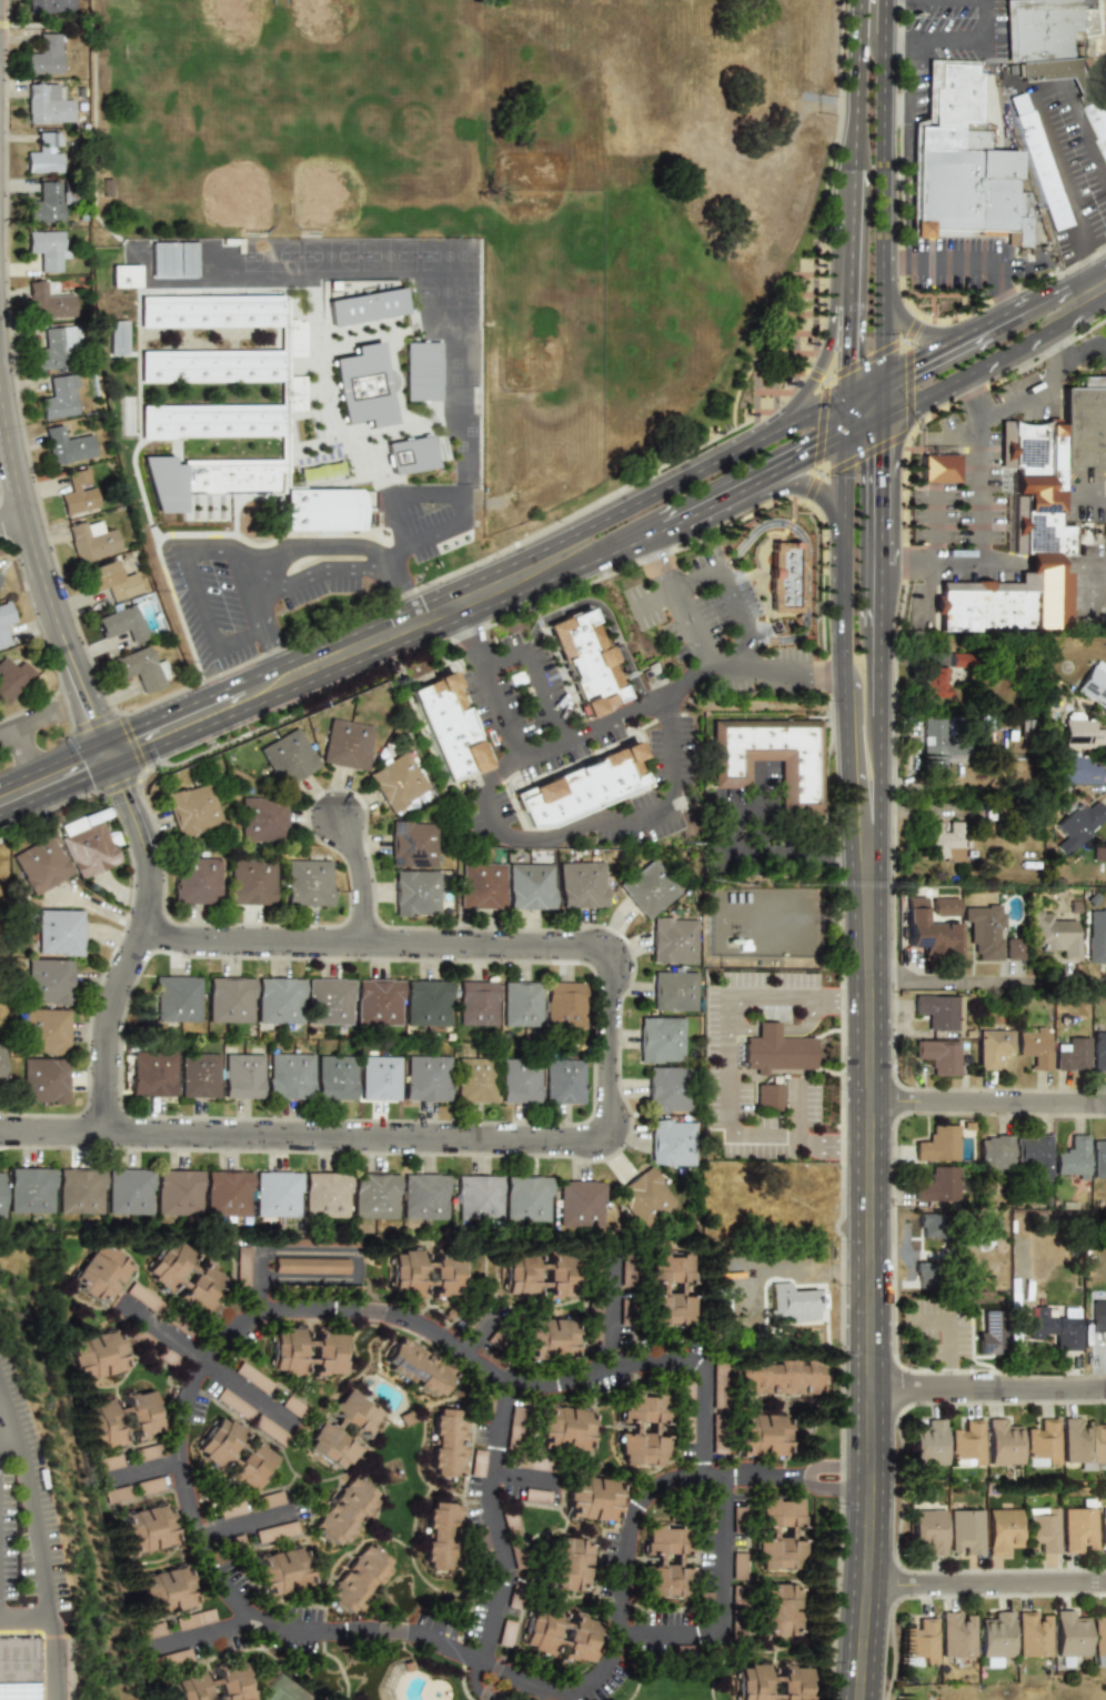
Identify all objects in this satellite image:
building: (49, 6)
road: (985, 22)
road: (868, 29)
road: (932, 42)
building: (1052, 49)
building: (43, 56)
road: (913, 79)
building: (46, 103)
road: (1043, 120)
road: (878, 128)
road: (854, 134)
building: (44, 153)
road: (786, 160)
building: (1036, 161)
building: (962, 164)
building: (105, 188)
building: (48, 201)
building: (46, 249)
road: (969, 258)
building: (184, 259)
building: (161, 260)
building: (122, 275)
road: (1085, 286)
building: (47, 301)
road: (1047, 303)
building: (364, 306)
road: (1016, 319)
road: (879, 322)
road: (994, 331)
road: (936, 334)
road: (847, 336)
building: (115, 338)
building: (53, 348)
road: (1052, 351)
road: (1080, 352)
road: (933, 362)
road: (818, 369)
road: (979, 370)
building: (419, 371)
building: (360, 386)
road: (969, 391)
road: (1019, 394)
road: (863, 396)
building: (59, 398)
building: (232, 410)
road: (845, 420)
building: (1084, 424)
road: (798, 425)
road: (862, 427)
road: (961, 437)
building: (66, 445)
building: (1026, 450)
building: (406, 455)
building: (937, 469)
building: (309, 473)
road: (763, 475)
road: (843, 475)
road: (879, 476)
road: (979, 482)
road: (802, 486)
road: (655, 491)
building: (77, 492)
road: (410, 501)
road: (1085, 501)
road: (11, 519)
building: (1042, 525)
road: (934, 526)
building: (89, 540)
road: (426, 540)
road: (626, 542)
road: (313, 550)
road: (805, 556)
road: (658, 563)
road: (906, 563)
road: (1019, 563)
road: (189, 571)
building: (0, 575)
building: (784, 575)
road: (312, 577)
building: (108, 580)
road: (42, 585)
road: (724, 590)
road: (399, 591)
road: (253, 596)
road: (654, 600)
road: (459, 601)
road: (602, 606)
building: (1004, 606)
building: (4, 622)
building: (122, 623)
road: (693, 632)
road: (464, 633)
road: (240, 640)
road: (273, 647)
building: (584, 661)
building: (139, 668)
road: (530, 668)
road: (829, 673)
building: (12, 678)
building: (932, 681)
road: (844, 682)
building: (1093, 685)
road: (223, 688)
road: (670, 693)
road: (877, 705)
road: (497, 707)
road: (233, 713)
road: (30, 721)
building: (445, 730)
building: (1078, 731)
building: (932, 742)
building: (346, 744)
road: (23, 750)
road: (858, 756)
building: (288, 757)
building: (770, 757)
road: (51, 762)
building: (1073, 768)
building: (398, 782)
building: (579, 786)
road: (56, 788)
building: (192, 809)
building: (261, 818)
road: (589, 823)
building: (1075, 823)
building: (945, 843)
building: (89, 844)
building: (413, 844)
road: (866, 849)
road: (774, 855)
building: (1104, 857)
building: (40, 865)
road: (358, 875)
building: (195, 879)
building: (250, 881)
building: (308, 883)
building: (582, 884)
building: (482, 885)
building: (531, 886)
building: (648, 887)
building: (415, 893)
building: (944, 906)
building: (59, 932)
building: (928, 932)
building: (988, 933)
building: (1052, 934)
building: (1096, 936)
building: (672, 940)
road: (134, 947)
building: (48, 982)
road: (986, 982)
building: (673, 990)
building: (177, 996)
road: (848, 998)
building: (229, 999)
building: (278, 999)
building: (328, 1002)
building: (378, 1002)
building: (426, 1002)
building: (476, 1003)
building: (520, 1004)
building: (564, 1004)
building: (937, 1010)
road: (782, 1028)
building: (46, 1030)
building: (661, 1039)
road: (722, 1046)
building: (994, 1047)
building: (1034, 1047)
building: (1098, 1048)
building: (775, 1049)
building: (941, 1055)
building: (1072, 1055)
building: (1, 1064)
road: (609, 1064)
building: (153, 1073)
building: (199, 1075)
building: (242, 1075)
building: (290, 1075)
building: (335, 1077)
building: (379, 1077)
building: (426, 1078)
building: (475, 1079)
building: (43, 1080)
building: (519, 1080)
building: (563, 1080)
building: (667, 1089)
building: (768, 1095)
road: (986, 1100)
road: (798, 1111)
road: (52, 1134)
road: (832, 1138)
building: (671, 1141)
building: (936, 1143)
building: (994, 1151)
building: (1033, 1151)
building: (1072, 1155)
building: (1098, 1156)
building: (936, 1185)
building: (30, 1189)
building: (79, 1190)
building: (129, 1191)
building: (178, 1193)
building: (227, 1193)
building: (0, 1194)
building: (276, 1194)
building: (325, 1194)
building: (375, 1195)
building: (424, 1196)
building: (644, 1197)
building: (477, 1198)
building: (526, 1198)
building: (580, 1204)
building: (929, 1225)
road: (274, 1249)
building: (167, 1264)
building: (242, 1266)
building: (310, 1266)
building: (624, 1269)
building: (99, 1273)
building: (425, 1274)
building: (535, 1275)
building: (923, 1275)
road: (869, 1277)
building: (201, 1288)
building: (667, 1289)
building: (143, 1298)
building: (792, 1301)
road: (609, 1307)
building: (623, 1314)
building: (1098, 1314)
building: (592, 1322)
building: (1053, 1328)
building: (989, 1332)
road: (945, 1336)
building: (546, 1339)
building: (306, 1350)
building: (94, 1355)
road: (202, 1364)
building: (418, 1368)
building: (776, 1377)
building: (252, 1378)
building: (718, 1385)
building: (686, 1391)
road: (182, 1394)
road: (989, 1394)
building: (233, 1404)
building: (292, 1407)
building: (643, 1408)
building: (101, 1425)
building: (324, 1428)
building: (514, 1428)
building: (564, 1428)
building: (685, 1429)
building: (270, 1431)
building: (760, 1435)
building: (716, 1438)
building: (218, 1441)
building: (1077, 1441)
building: (445, 1442)
building: (1001, 1442)
road: (7, 1444)
building: (965, 1444)
building: (1040, 1444)
building: (927, 1445)
building: (1103, 1446)
building: (641, 1448)
building: (147, 1452)
building: (108, 1462)
building: (476, 1462)
building: (534, 1463)
building: (250, 1466)
road: (134, 1471)
road: (520, 1477)
building: (148, 1486)
building: (115, 1493)
building: (535, 1496)
building: (269, 1499)
building: (591, 1499)
parking lot: (22, 1507)
building: (230, 1509)
building: (343, 1512)
building: (737, 1516)
road: (487, 1519)
road: (240, 1522)
building: (510, 1525)
building: (1103, 1525)
building: (144, 1528)
building: (1078, 1528)
road: (32, 1529)
building: (1040, 1529)
building: (927, 1530)
building: (1002, 1530)
building: (274, 1531)
building: (965, 1532)
building: (776, 1533)
building: (440, 1537)
building: (479, 1539)
building: (665, 1560)
building: (566, 1563)
building: (736, 1566)
building: (280, 1571)
building: (356, 1579)
road: (987, 1581)
building: (164, 1591)
road: (722, 1607)
building: (777, 1609)
building: (193, 1619)
building: (540, 1629)
building: (151, 1630)
road: (195, 1631)
building: (505, 1631)
building: (957, 1633)
building: (1032, 1633)
building: (1068, 1636)
building: (1097, 1637)
building: (577, 1638)
building: (994, 1638)
building: (919, 1641)
road: (51, 1658)
building: (172, 1658)
building: (18, 1663)
road: (72, 1669)
building: (771, 1682)
building: (213, 1683)

